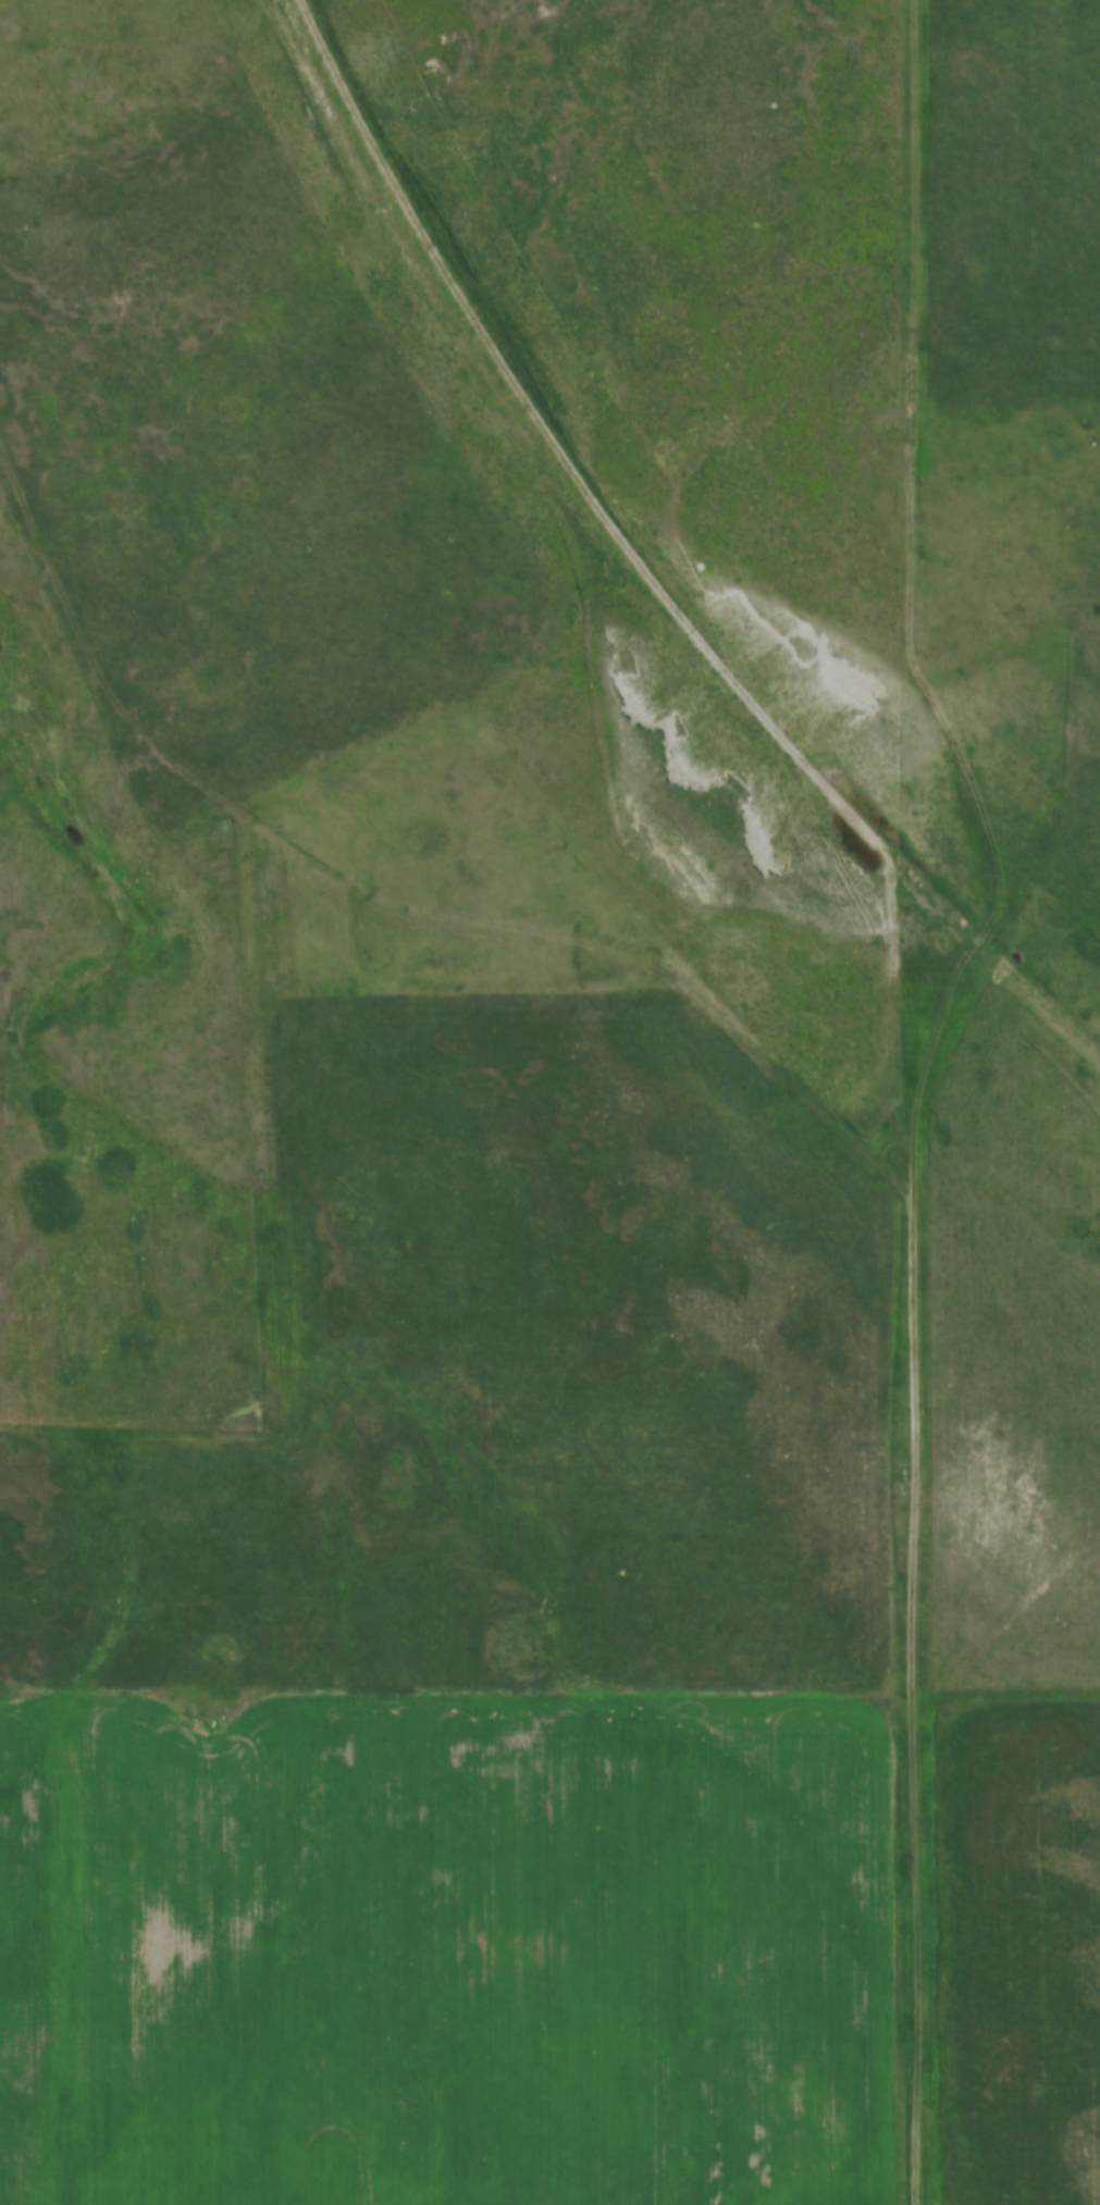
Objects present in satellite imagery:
road: (907, 1079)

